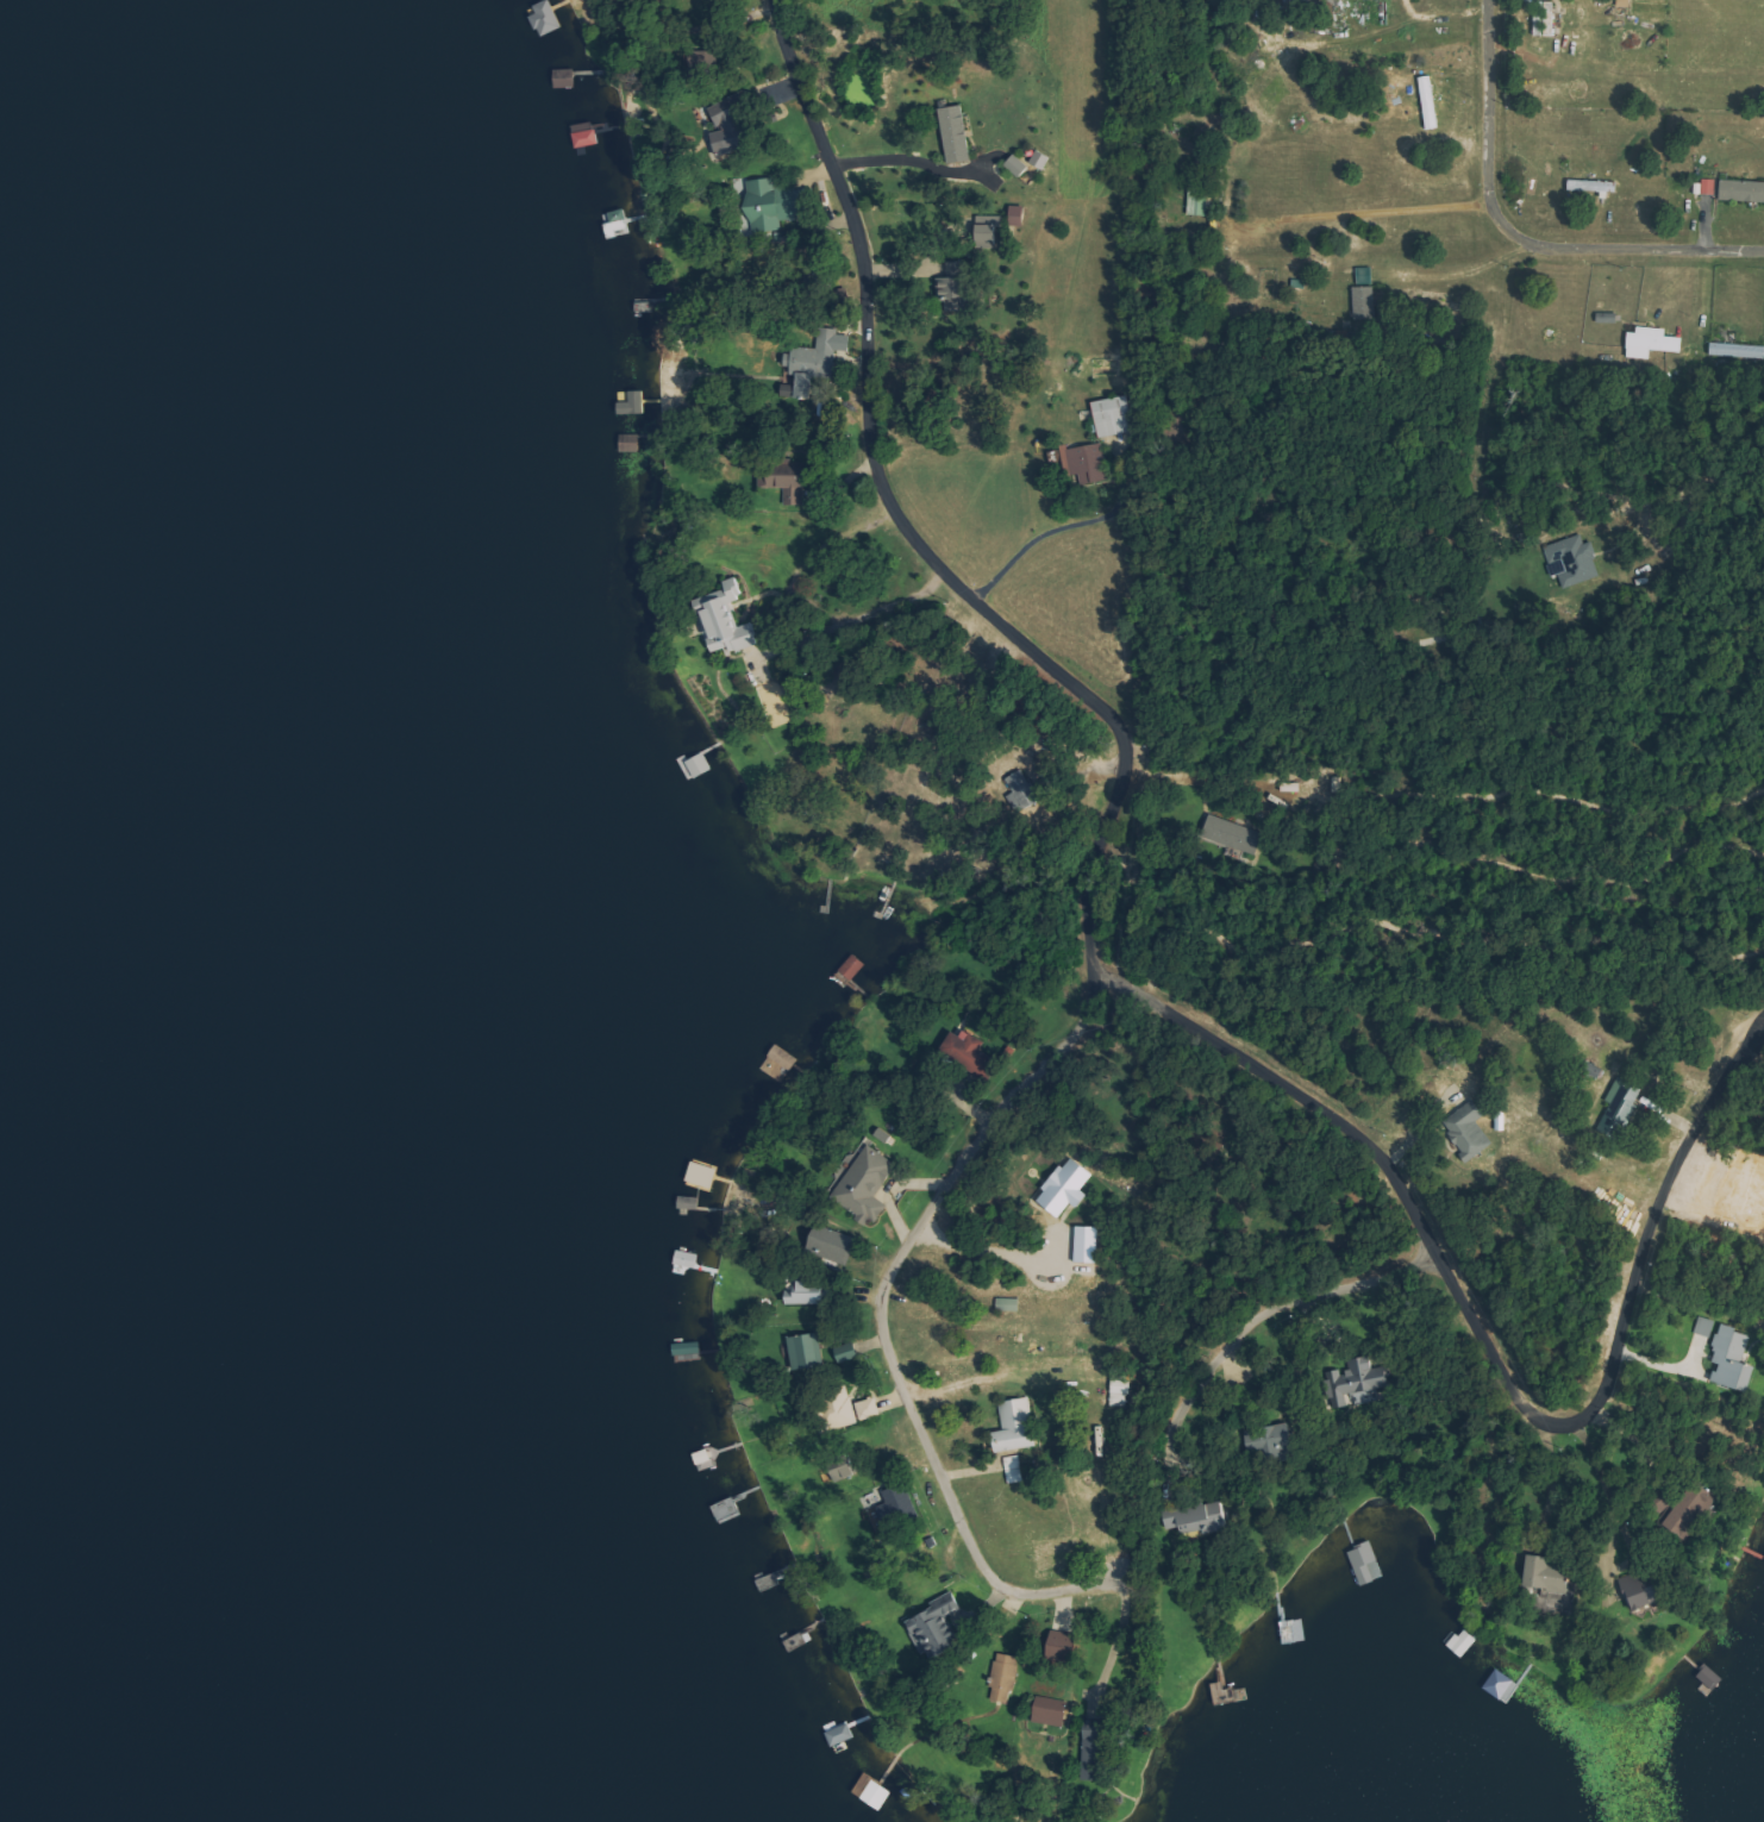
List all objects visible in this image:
building: (1546, 18)
building: (1432, 102)
building: (731, 127)
building: (958, 133)
building: (587, 134)
building: (1041, 159)
building: (1019, 165)
building: (1595, 186)
building: (1710, 186)
building: (1743, 190)
building: (775, 204)
building: (1020, 215)
building: (618, 224)
building: (990, 234)
road: (1516, 238)
building: (956, 287)
building: (1368, 296)
building: (1609, 318)
building: (1653, 343)
building: (1738, 350)
building: (817, 362)
building: (1114, 417)
building: (1089, 463)
building: (788, 487)
building: (1575, 561)
building: (730, 620)
building: (1024, 790)
building: (1234, 834)
road: (1103, 851)
building: (969, 1048)
building: (1624, 1106)
building: (1471, 1129)
road: (1375, 1159)
building: (865, 1185)
building: (1070, 1187)
road: (1652, 1234)
building: (833, 1242)
building: (1090, 1244)
building: (811, 1292)
building: (1011, 1303)
building: (1706, 1326)
building: (807, 1351)
building: (1733, 1358)
road: (1219, 1364)
building: (1358, 1383)
building: (1121, 1392)
building: (871, 1408)
building: (1019, 1425)
building: (1275, 1442)
building: (850, 1469)
building: (897, 1502)
building: (1203, 1520)
building: (1368, 1563)
building: (1550, 1573)
building: (1647, 1588)
building: (944, 1623)
building: (1066, 1645)
building: (1006, 1677)
building: (1501, 1684)
building: (1053, 1715)
building: (1097, 1754)

